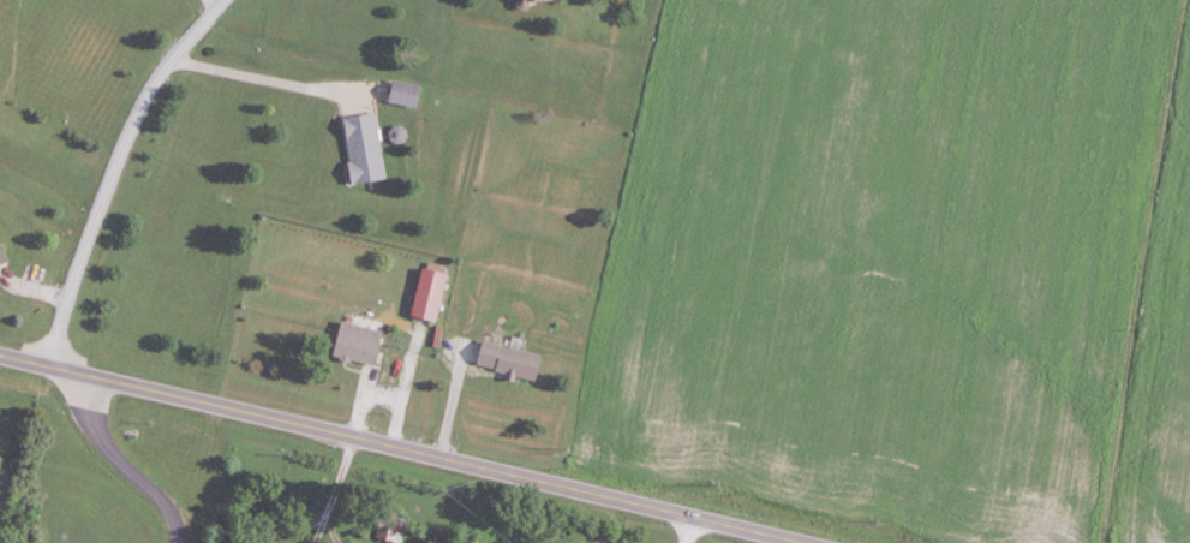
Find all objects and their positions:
building: (537, 1)
road: (214, 4)
road: (269, 78)
building: (407, 93)
building: (366, 149)
road: (114, 169)
building: (2, 255)
building: (432, 296)
building: (359, 348)
building: (513, 360)
road: (401, 446)
road: (121, 465)
road: (329, 489)
road: (688, 529)
building: (391, 530)

